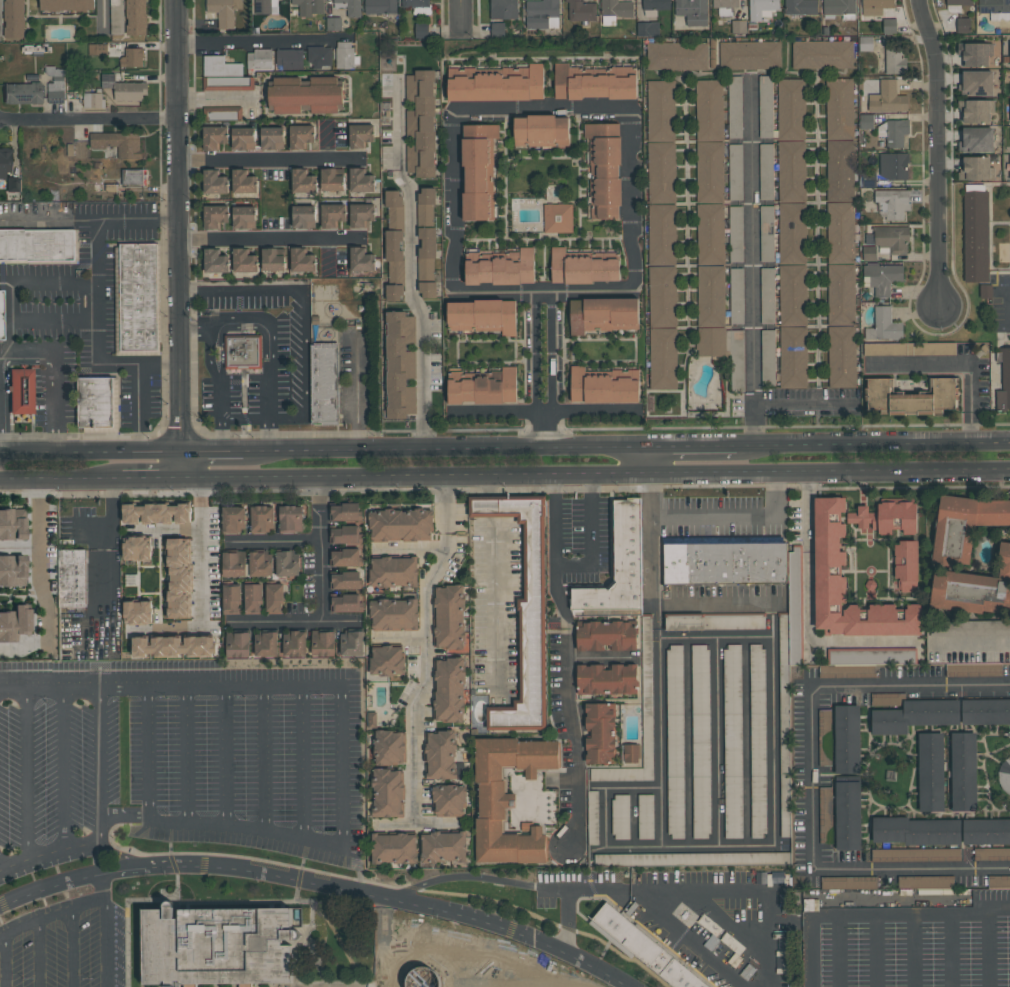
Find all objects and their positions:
building: (415, 3)
building: (725, 3)
building: (656, 4)
building: (956, 4)
building: (67, 5)
building: (264, 6)
building: (380, 6)
building: (875, 6)
building: (309, 7)
building: (350, 7)
building: (801, 7)
building: (839, 7)
building: (616, 8)
building: (995, 8)
building: (503, 9)
building: (761, 9)
building: (422, 10)
building: (580, 10)
building: (224, 11)
building: (693, 11)
building: (542, 14)
road: (463, 16)
building: (136, 17)
building: (12, 18)
building: (334, 24)
building: (890, 25)
building: (963, 25)
building: (498, 29)
building: (648, 29)
road: (254, 41)
building: (975, 53)
building: (822, 54)
building: (345, 55)
building: (750, 55)
building: (677, 56)
building: (133, 57)
building: (319, 57)
building: (289, 58)
building: (259, 59)
building: (894, 59)
building: (224, 75)
building: (593, 83)
building: (977, 83)
building: (499, 84)
building: (125, 89)
building: (23, 93)
building: (305, 95)
road: (215, 97)
building: (888, 98)
building: (93, 100)
building: (765, 106)
building: (735, 107)
road: (640, 108)
building: (791, 109)
building: (661, 110)
building: (977, 111)
road: (89, 121)
building: (421, 123)
building: (541, 131)
building: (896, 132)
building: (361, 135)
building: (301, 136)
building: (214, 137)
building: (243, 138)
building: (272, 138)
building: (976, 140)
building: (123, 143)
road: (937, 154)
road: (272, 160)
building: (4, 164)
building: (893, 166)
building: (976, 169)
building: (604, 170)
building: (478, 171)
building: (766, 172)
building: (133, 176)
building: (331, 180)
building: (361, 180)
building: (303, 181)
building: (215, 182)
building: (244, 182)
building: (426, 204)
building: (892, 204)
building: (394, 207)
road: (89, 211)
building: (332, 214)
building: (361, 214)
building: (215, 216)
building: (303, 216)
building: (244, 217)
building: (558, 218)
building: (710, 218)
building: (767, 233)
building: (841, 233)
road: (179, 238)
road: (752, 238)
building: (892, 239)
road: (269, 241)
building: (37, 245)
building: (427, 250)
building: (394, 253)
building: (361, 259)
building: (244, 260)
building: (272, 260)
building: (302, 260)
building: (215, 261)
road: (409, 264)
building: (792, 264)
building: (662, 265)
building: (583, 267)
building: (500, 268)
building: (882, 278)
road: (17, 281)
road: (240, 290)
building: (428, 290)
building: (394, 292)
building: (767, 295)
building: (138, 298)
road: (54, 314)
building: (603, 315)
building: (0, 316)
building: (483, 316)
building: (884, 325)
road: (100, 328)
road: (194, 331)
road: (268, 339)
building: (909, 348)
road: (210, 352)
building: (243, 352)
building: (768, 357)
building: (736, 360)
road: (959, 363)
building: (400, 365)
road: (303, 370)
road: (552, 371)
road: (536, 372)
road: (54, 378)
building: (1000, 380)
building: (324, 383)
building: (484, 389)
building: (20, 391)
road: (220, 395)
building: (912, 397)
building: (98, 402)
road: (800, 405)
road: (138, 411)
road: (542, 412)
road: (245, 418)
road: (753, 421)
road: (1001, 424)
road: (270, 436)
road: (221, 437)
road: (872, 446)
road: (693, 448)
road: (602, 449)
road: (398, 452)
road: (212, 456)
road: (91, 458)
road: (652, 462)
road: (364, 473)
road: (890, 474)
road: (568, 475)
road: (622, 475)
road: (711, 475)
road: (153, 477)
road: (60, 479)
road: (490, 484)
road: (491, 506)
building: (159, 512)
road: (735, 517)
building: (885, 518)
building: (263, 520)
road: (554, 520)
building: (401, 524)
building: (12, 525)
building: (964, 526)
road: (173, 527)
road: (97, 533)
road: (590, 539)
road: (275, 540)
road: (652, 541)
road: (322, 546)
road: (408, 546)
road: (20, 548)
building: (346, 558)
road: (41, 563)
building: (726, 564)
building: (618, 566)
building: (905, 566)
building: (822, 570)
building: (12, 571)
road: (112, 571)
building: (73, 579)
building: (183, 579)
building: (257, 581)
road: (209, 586)
building: (974, 589)
building: (394, 592)
road: (712, 600)
road: (493, 602)
building: (524, 606)
road: (808, 608)
building: (617, 612)
road: (293, 621)
building: (714, 622)
building: (14, 625)
building: (607, 636)
road: (716, 638)
road: (403, 639)
building: (295, 644)
road: (971, 645)
building: (168, 646)
road: (21, 648)
road: (428, 649)
building: (872, 656)
road: (599, 658)
building: (389, 660)
building: (973, 669)
building: (847, 671)
building: (607, 680)
road: (170, 689)
building: (648, 691)
building: (887, 698)
building: (448, 701)
road: (566, 709)
building: (940, 714)
building: (372, 720)
building: (786, 731)
building: (602, 732)
road: (996, 733)
building: (824, 737)
building: (701, 739)
building: (759, 739)
building: (675, 740)
building: (733, 740)
road: (747, 741)
road: (688, 742)
road: (718, 742)
road: (910, 744)
road: (998, 747)
building: (631, 753)
road: (149, 754)
road: (100, 755)
road: (187, 756)
road: (226, 758)
parking lot: (180, 759)
road: (264, 761)
road: (304, 764)
road: (982, 765)
road: (341, 766)
road: (64, 770)
building: (947, 771)
park: (933, 773)
building: (389, 775)
road: (838, 775)
building: (890, 775)
building: (1004, 775)
road: (27, 776)
road: (811, 777)
building: (847, 777)
road: (598, 789)
road: (909, 790)
building: (514, 800)
road: (997, 809)
road: (875, 811)
building: (622, 816)
building: (646, 817)
road: (662, 817)
building: (594, 818)
road: (418, 824)
road: (869, 826)
road: (221, 828)
building: (941, 831)
road: (100, 832)
road: (112, 841)
road: (661, 847)
road: (599, 849)
building: (418, 851)
road: (48, 852)
building: (916, 854)
building: (992, 854)
building: (696, 860)
road: (289, 865)
road: (464, 877)
building: (926, 881)
building: (999, 881)
building: (849, 882)
road: (318, 883)
road: (747, 890)
road: (584, 891)
road: (228, 901)
road: (51, 912)
road: (880, 915)
road: (127, 918)
parking lot: (704, 918)
road: (727, 922)
road: (567, 923)
road: (791, 924)
road: (2, 927)
road: (599, 929)
road: (105, 930)
road: (304, 936)
parking lot: (906, 937)
road: (690, 939)
road: (385, 941)
road: (342, 943)
parking lot: (66, 944)
road: (72, 946)
building: (218, 947)
road: (621, 947)
building: (647, 949)
road: (989, 950)
road: (877, 951)
road: (914, 951)
road: (951, 951)
road: (39, 952)
road: (839, 952)
road: (4, 960)
parking lot: (473, 963)
road: (650, 971)
building: (421, 972)

